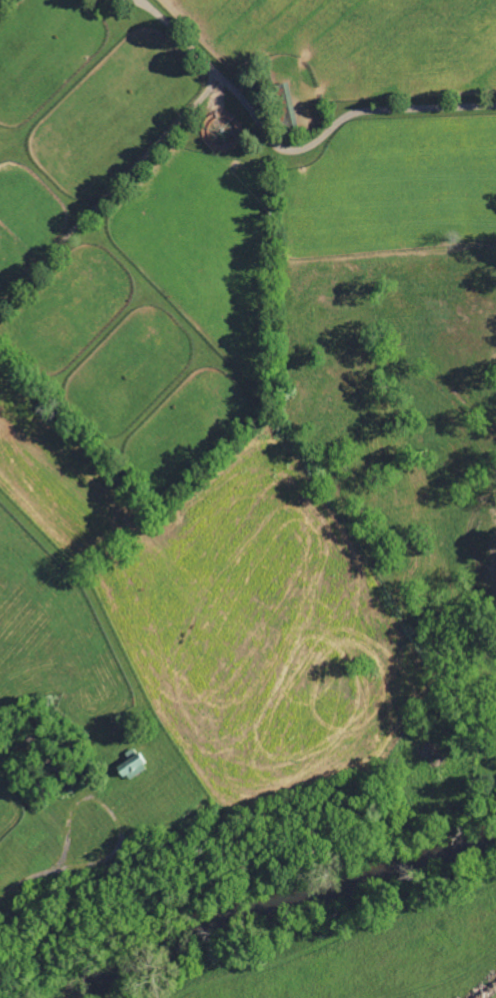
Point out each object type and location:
road: (0, 0)
building: (284, 105)
road: (292, 150)
road: (111, 192)
building: (130, 767)
road: (115, 820)
road: (25, 886)

